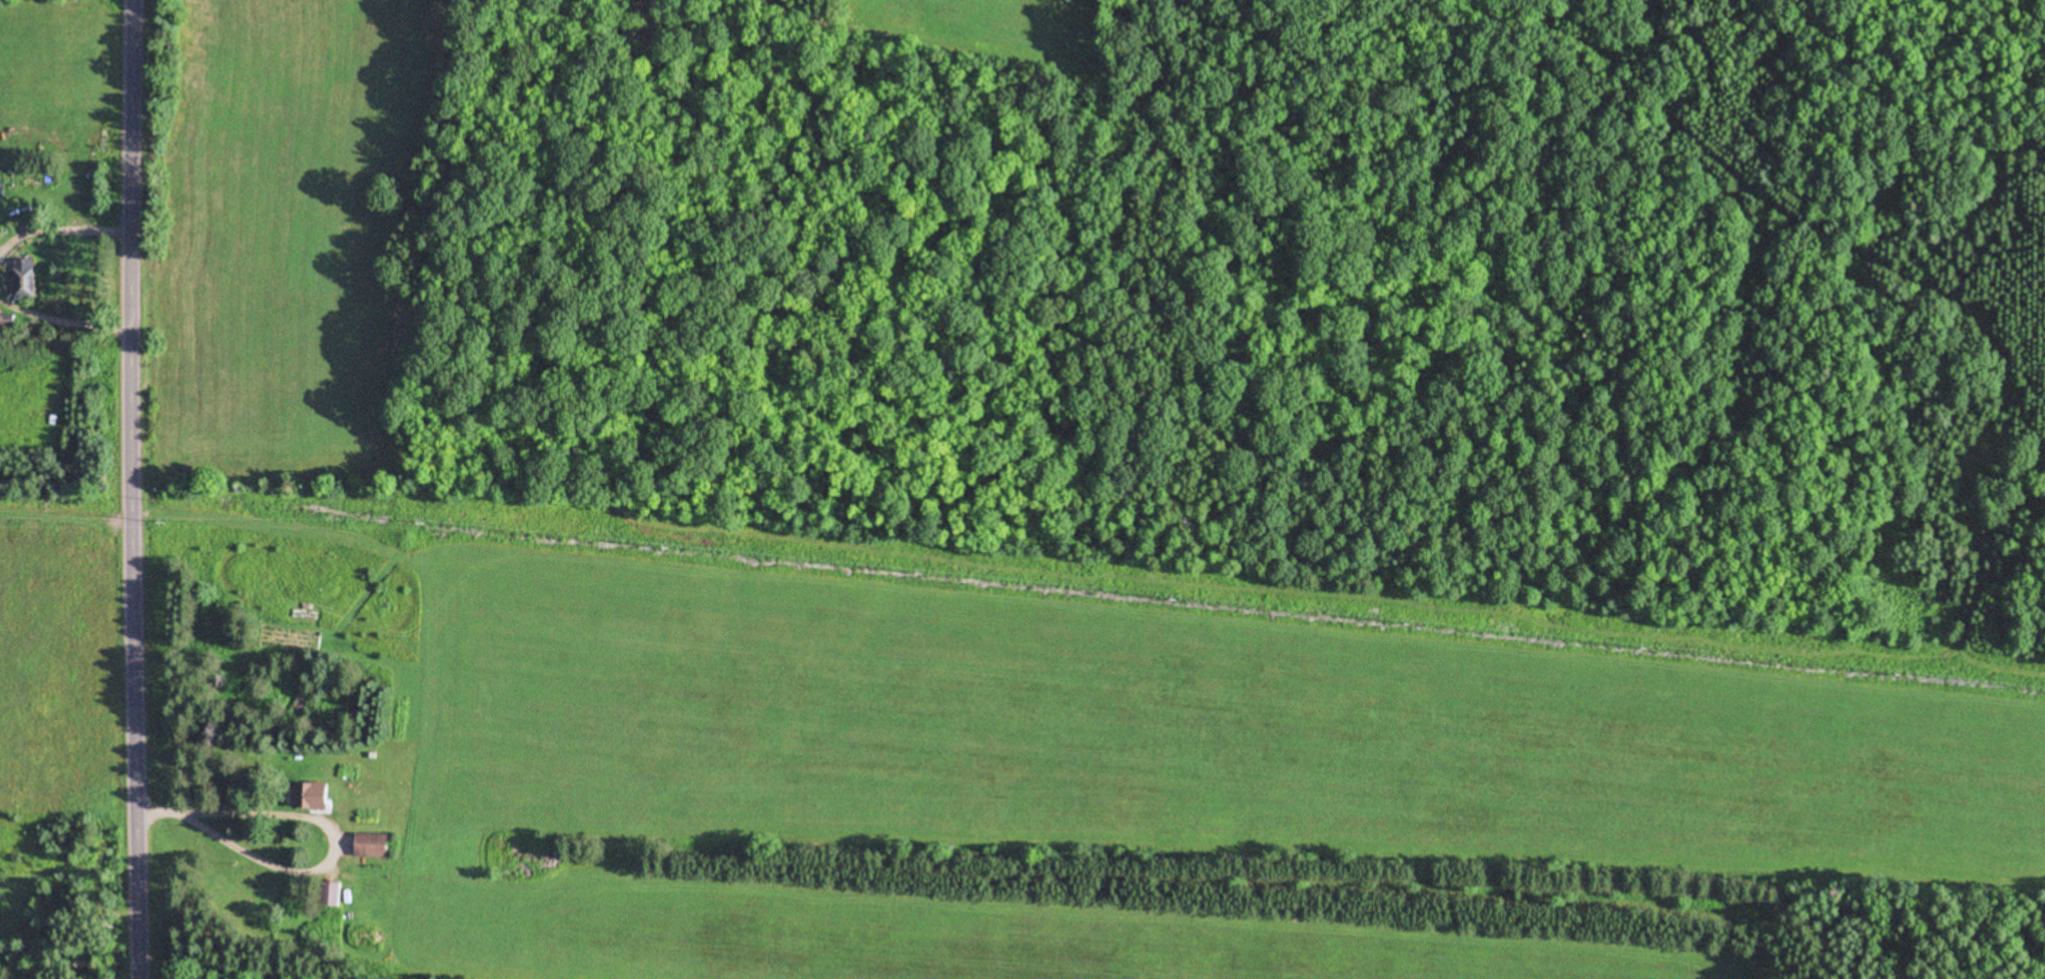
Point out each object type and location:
building: (27, 279)
building: (13, 324)
road: (152, 489)
building: (308, 796)
building: (375, 845)
building: (334, 893)

